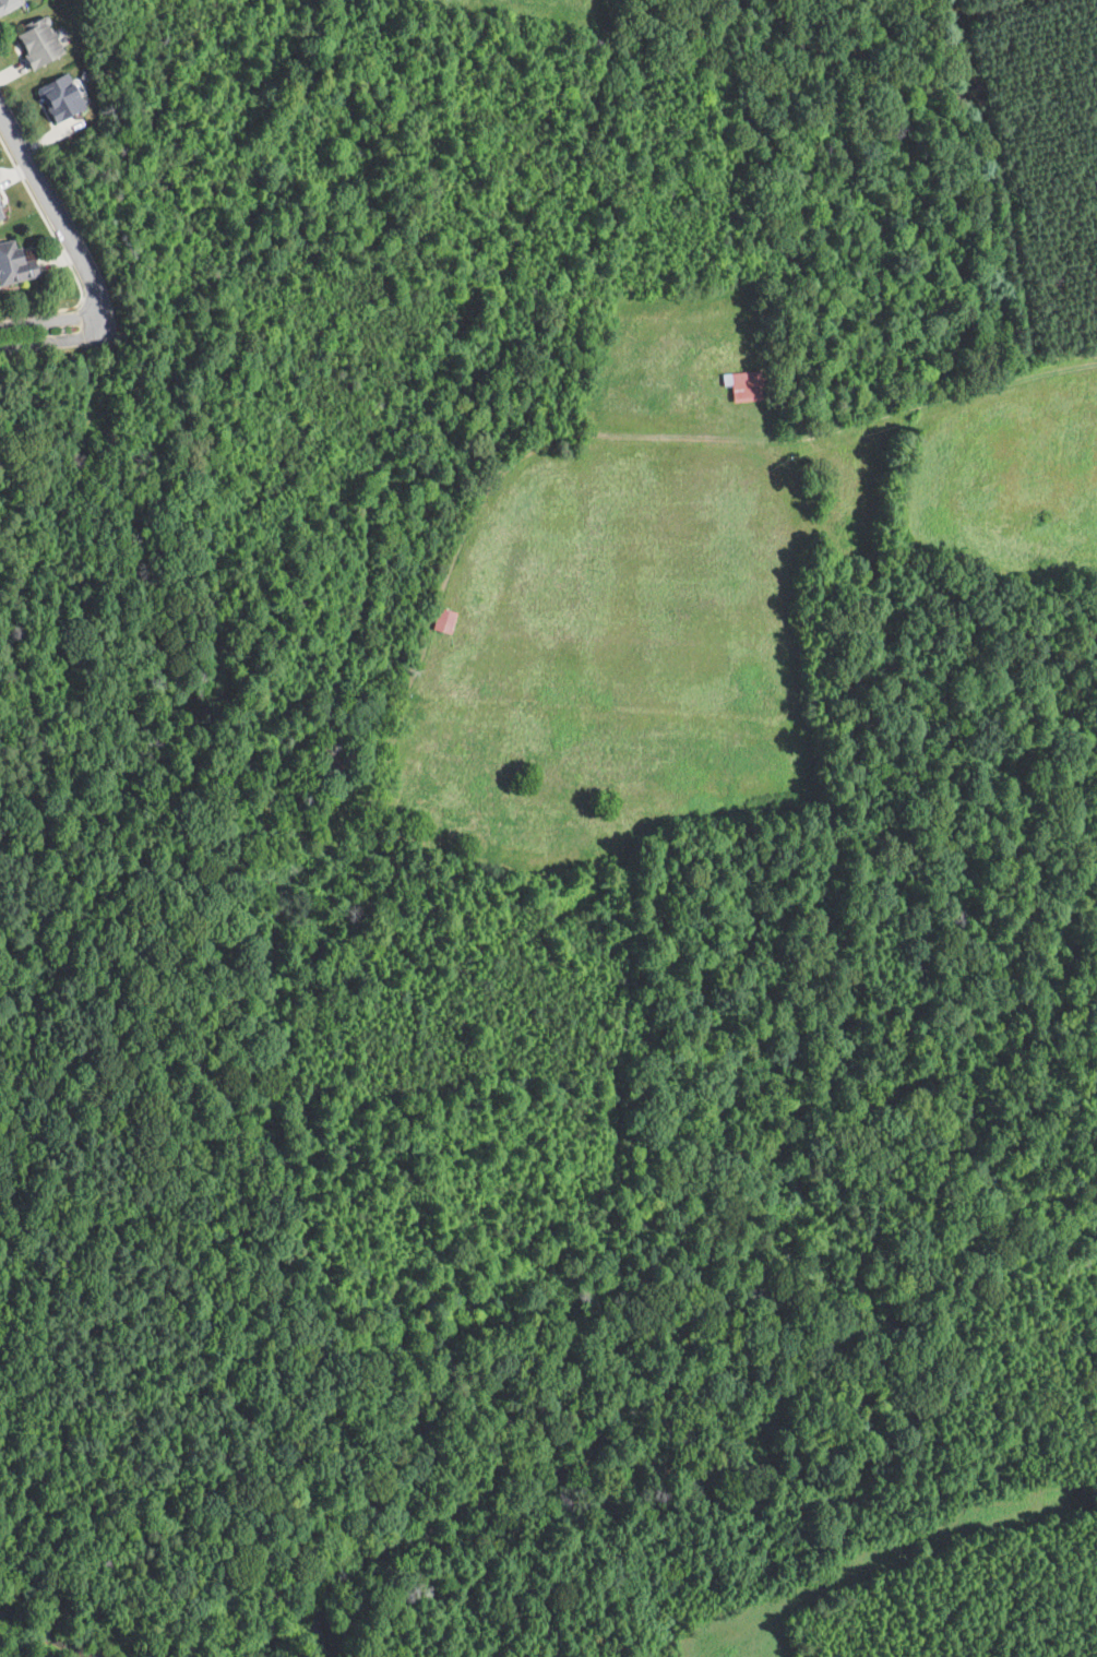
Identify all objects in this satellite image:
building: (8, 4)
building: (36, 43)
building: (62, 97)
building: (0, 204)
building: (1, 215)
road: (61, 218)
building: (13, 265)
road: (51, 320)
road: (52, 341)
building: (743, 384)
building: (443, 620)

